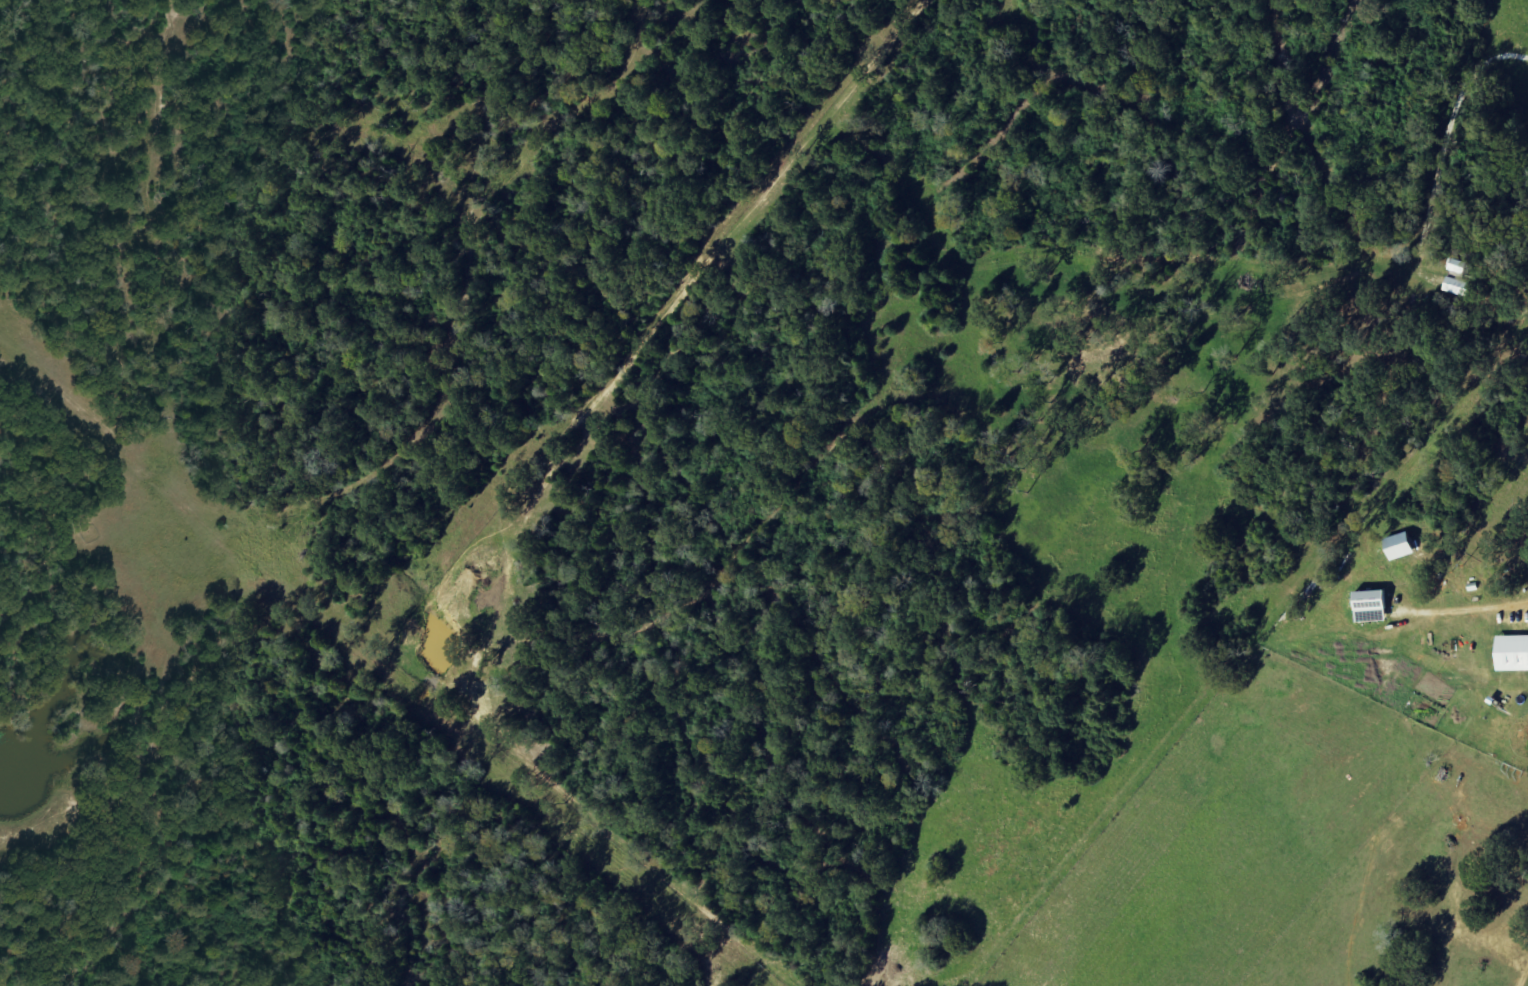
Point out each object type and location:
building: (1398, 548)
building: (1512, 655)

